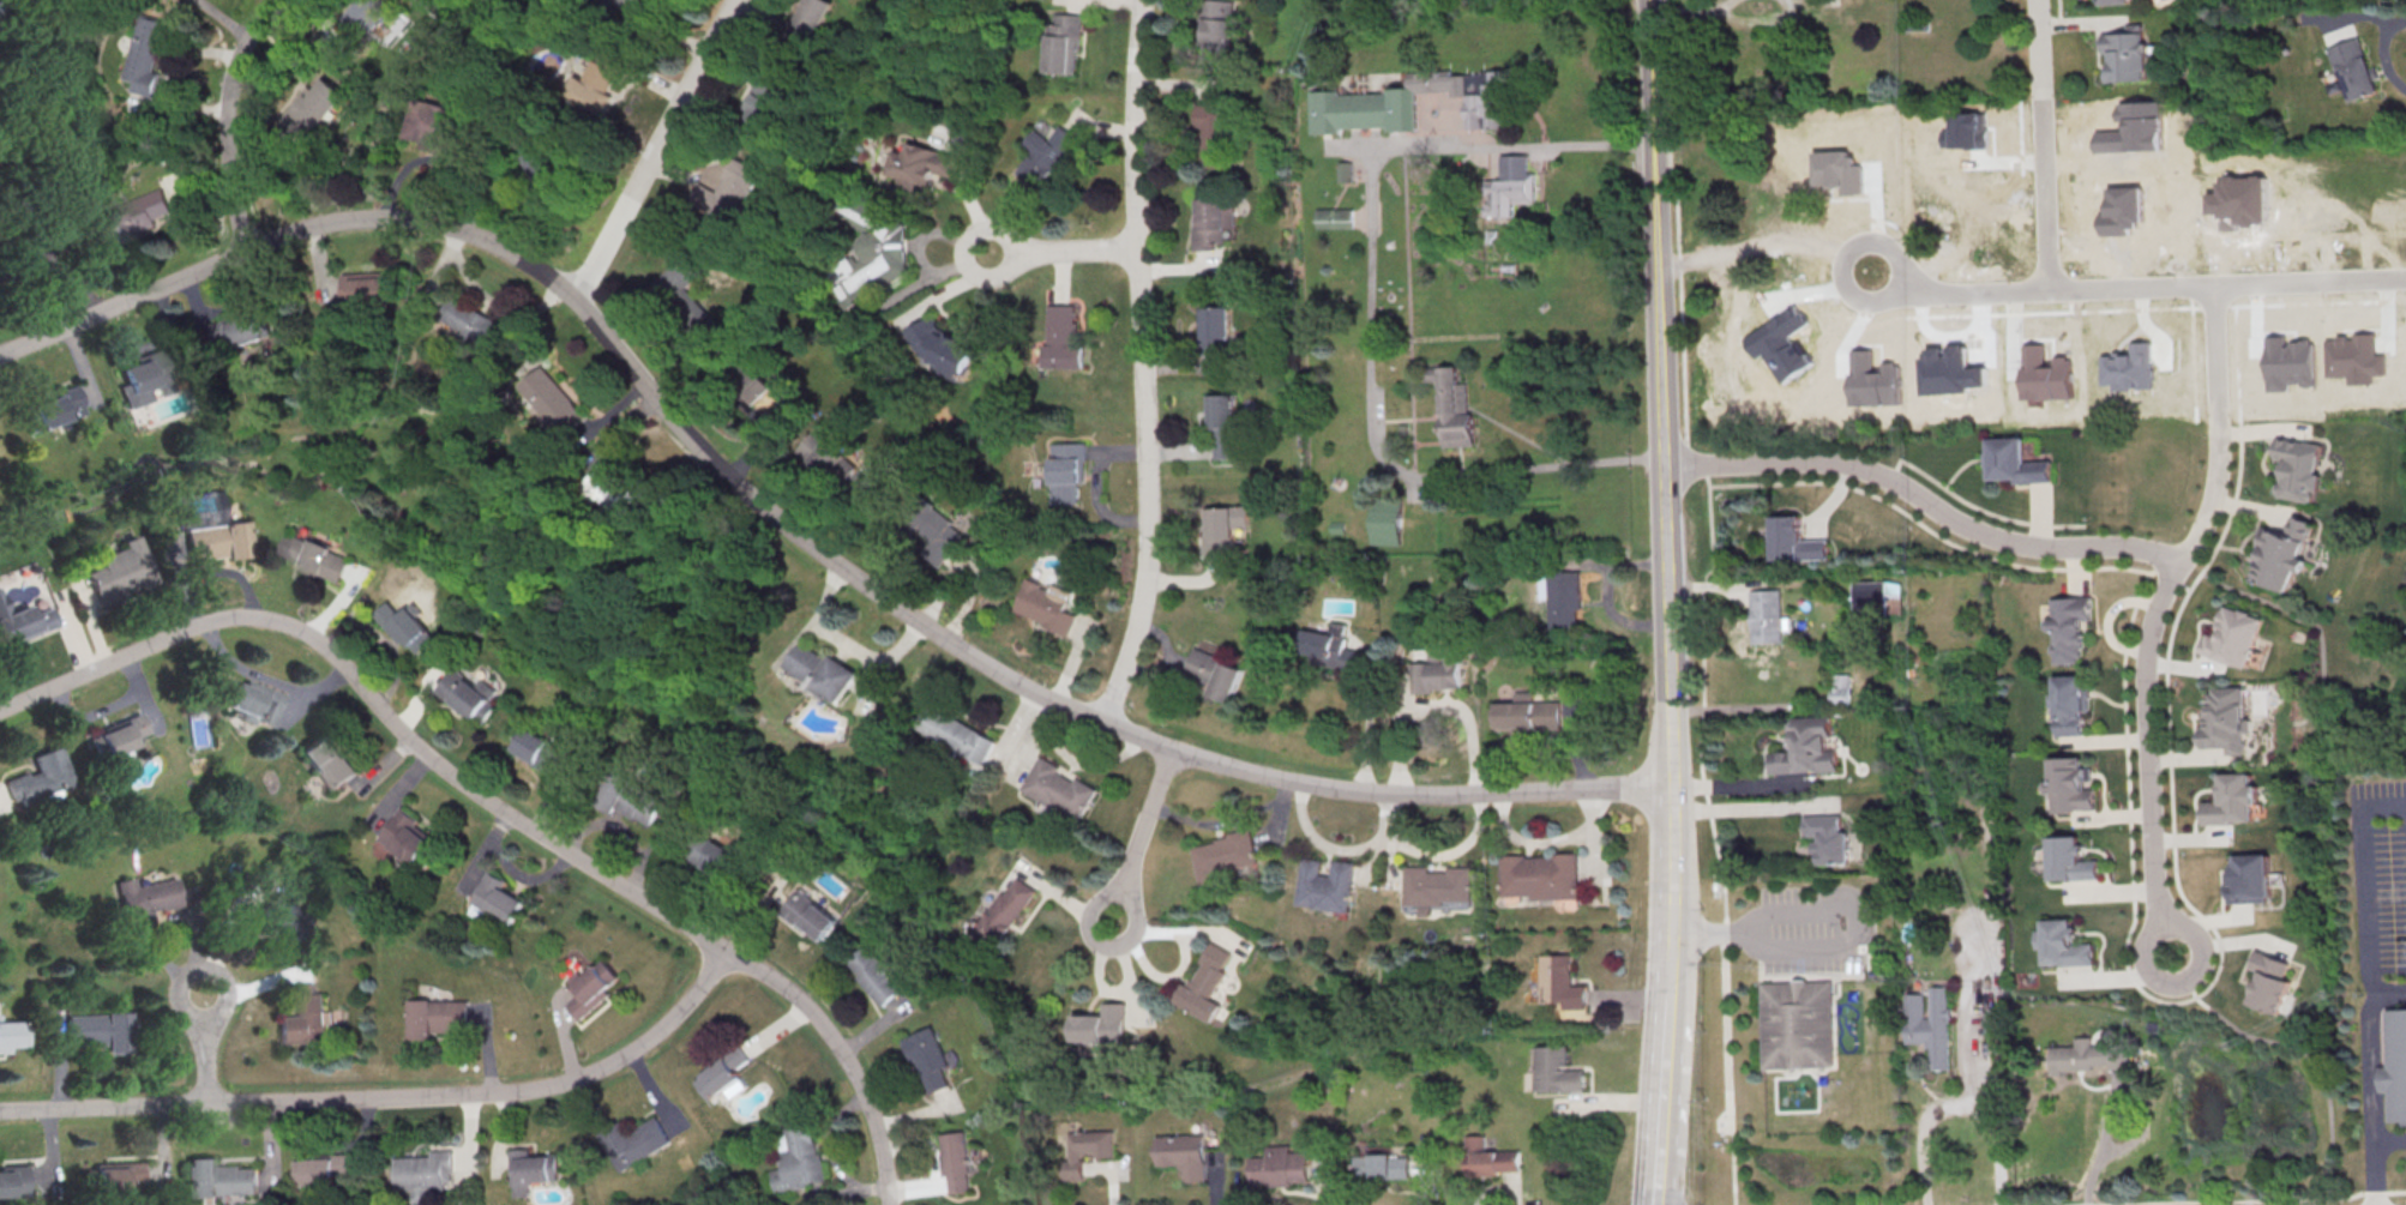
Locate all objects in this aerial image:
building: (2113, 1)
building: (615, 5)
building: (1, 8)
building: (367, 16)
building: (804, 24)
building: (1214, 28)
building: (1059, 42)
building: (148, 54)
building: (2128, 54)
road: (2388, 54)
building: (2352, 67)
road: (1653, 73)
building: (602, 80)
building: (1470, 91)
building: (1361, 106)
building: (766, 107)
building: (317, 109)
road: (224, 118)
building: (434, 126)
building: (1213, 131)
building: (1792, 138)
road: (2040, 143)
road: (655, 149)
building: (533, 151)
building: (1042, 152)
building: (927, 163)
building: (1342, 169)
building: (1509, 186)
building: (732, 189)
building: (1797, 194)
building: (134, 213)
building: (1333, 216)
building: (1210, 222)
building: (868, 243)
road: (1060, 251)
building: (19, 269)
building: (1721, 278)
road: (2136, 288)
building: (366, 291)
building: (682, 291)
road: (1370, 311)
building: (473, 324)
building: (241, 327)
building: (1209, 327)
building: (1063, 336)
building: (939, 343)
road: (1142, 363)
building: (432, 372)
building: (148, 379)
building: (760, 384)
building: (558, 402)
building: (54, 405)
building: (1451, 405)
building: (1220, 423)
building: (823, 456)
building: (2010, 463)
road: (1670, 464)
building: (1065, 468)
building: (2296, 469)
building: (620, 493)
road: (1825, 501)
road: (1925, 501)
building: (1384, 518)
building: (1221, 525)
building: (928, 528)
road: (795, 530)
building: (218, 540)
building: (1790, 541)
building: (2284, 554)
building: (315, 555)
building: (120, 572)
road: (1761, 584)
building: (1562, 597)
road: (1701, 597)
building: (1866, 598)
building: (1042, 607)
building: (1761, 616)
road: (2153, 616)
building: (23, 621)
building: (409, 625)
building: (2069, 626)
building: (2234, 637)
building: (1329, 644)
building: (1437, 668)
building: (820, 669)
building: (1213, 671)
building: (1839, 687)
building: (464, 695)
building: (252, 698)
building: (2071, 704)
road: (1745, 705)
building: (1524, 711)
building: (2227, 718)
road: (1369, 721)
building: (113, 734)
building: (956, 734)
building: (536, 746)
building: (1803, 747)
building: (329, 761)
building: (43, 779)
building: (2065, 785)
building: (1057, 788)
building: (625, 796)
building: (2228, 801)
road: (497, 807)
road: (1752, 807)
road: (1141, 833)
building: (398, 835)
building: (1824, 838)
building: (705, 852)
building: (1226, 854)
building: (2067, 861)
building: (1538, 874)
road: (2365, 876)
building: (2245, 880)
building: (1325, 882)
building: (1434, 884)
road: (1672, 890)
building: (143, 898)
building: (494, 898)
building: (806, 910)
building: (1004, 911)
building: (277, 918)
road: (1837, 941)
building: (2058, 945)
building: (872, 971)
building: (1559, 980)
building: (2270, 980)
building: (1204, 982)
building: (587, 986)
building: (308, 1016)
building: (439, 1016)
building: (1101, 1023)
building: (1930, 1023)
building: (1797, 1024)
building: (1993, 1024)
building: (104, 1029)
building: (16, 1032)
road: (2371, 1048)
road: (209, 1049)
road: (1667, 1055)
building: (927, 1056)
building: (2087, 1056)
building: (2396, 1065)
road: (2311, 1066)
building: (1553, 1068)
building: (722, 1070)
road: (387, 1096)
road: (1980, 1108)
building: (628, 1140)
road: (1921, 1140)
road: (2103, 1141)
road: (2389, 1144)
building: (1087, 1149)
building: (1185, 1152)
building: (1488, 1156)
building: (956, 1157)
building: (798, 1158)
road: (1660, 1159)
building: (1280, 1164)
building: (1381, 1164)
building: (321, 1169)
building: (533, 1169)
building: (423, 1173)
road: (2374, 1175)
building: (113, 1176)
building: (219, 1176)
building: (17, 1180)
road: (2237, 1199)

